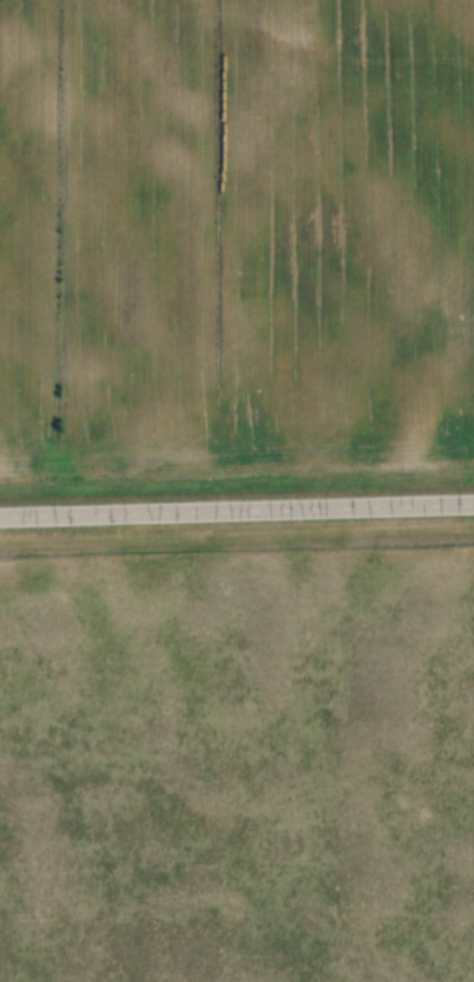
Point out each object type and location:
road: (237, 508)

